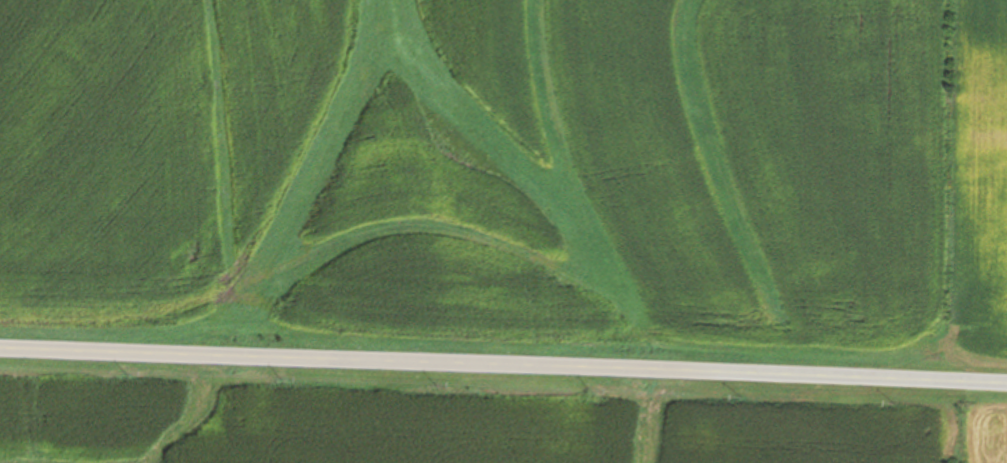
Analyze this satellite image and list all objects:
road: (503, 370)

